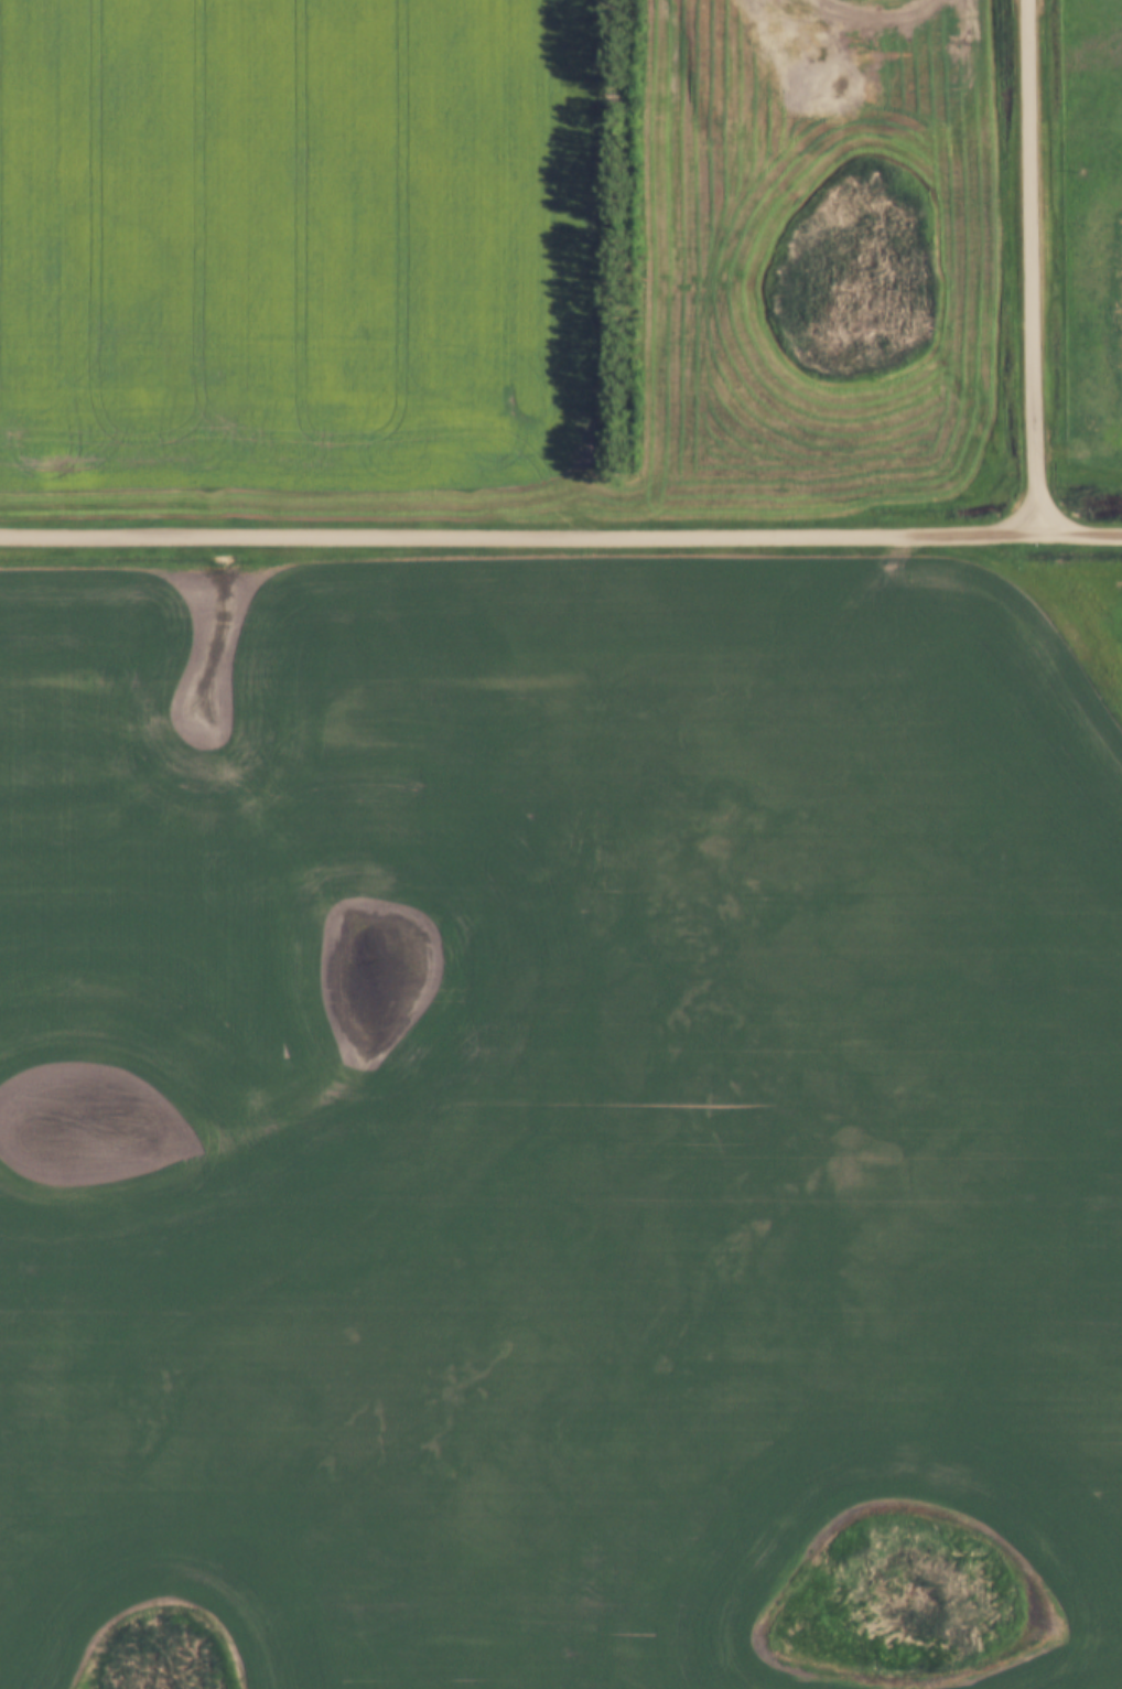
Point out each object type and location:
road: (1039, 267)
road: (561, 535)

